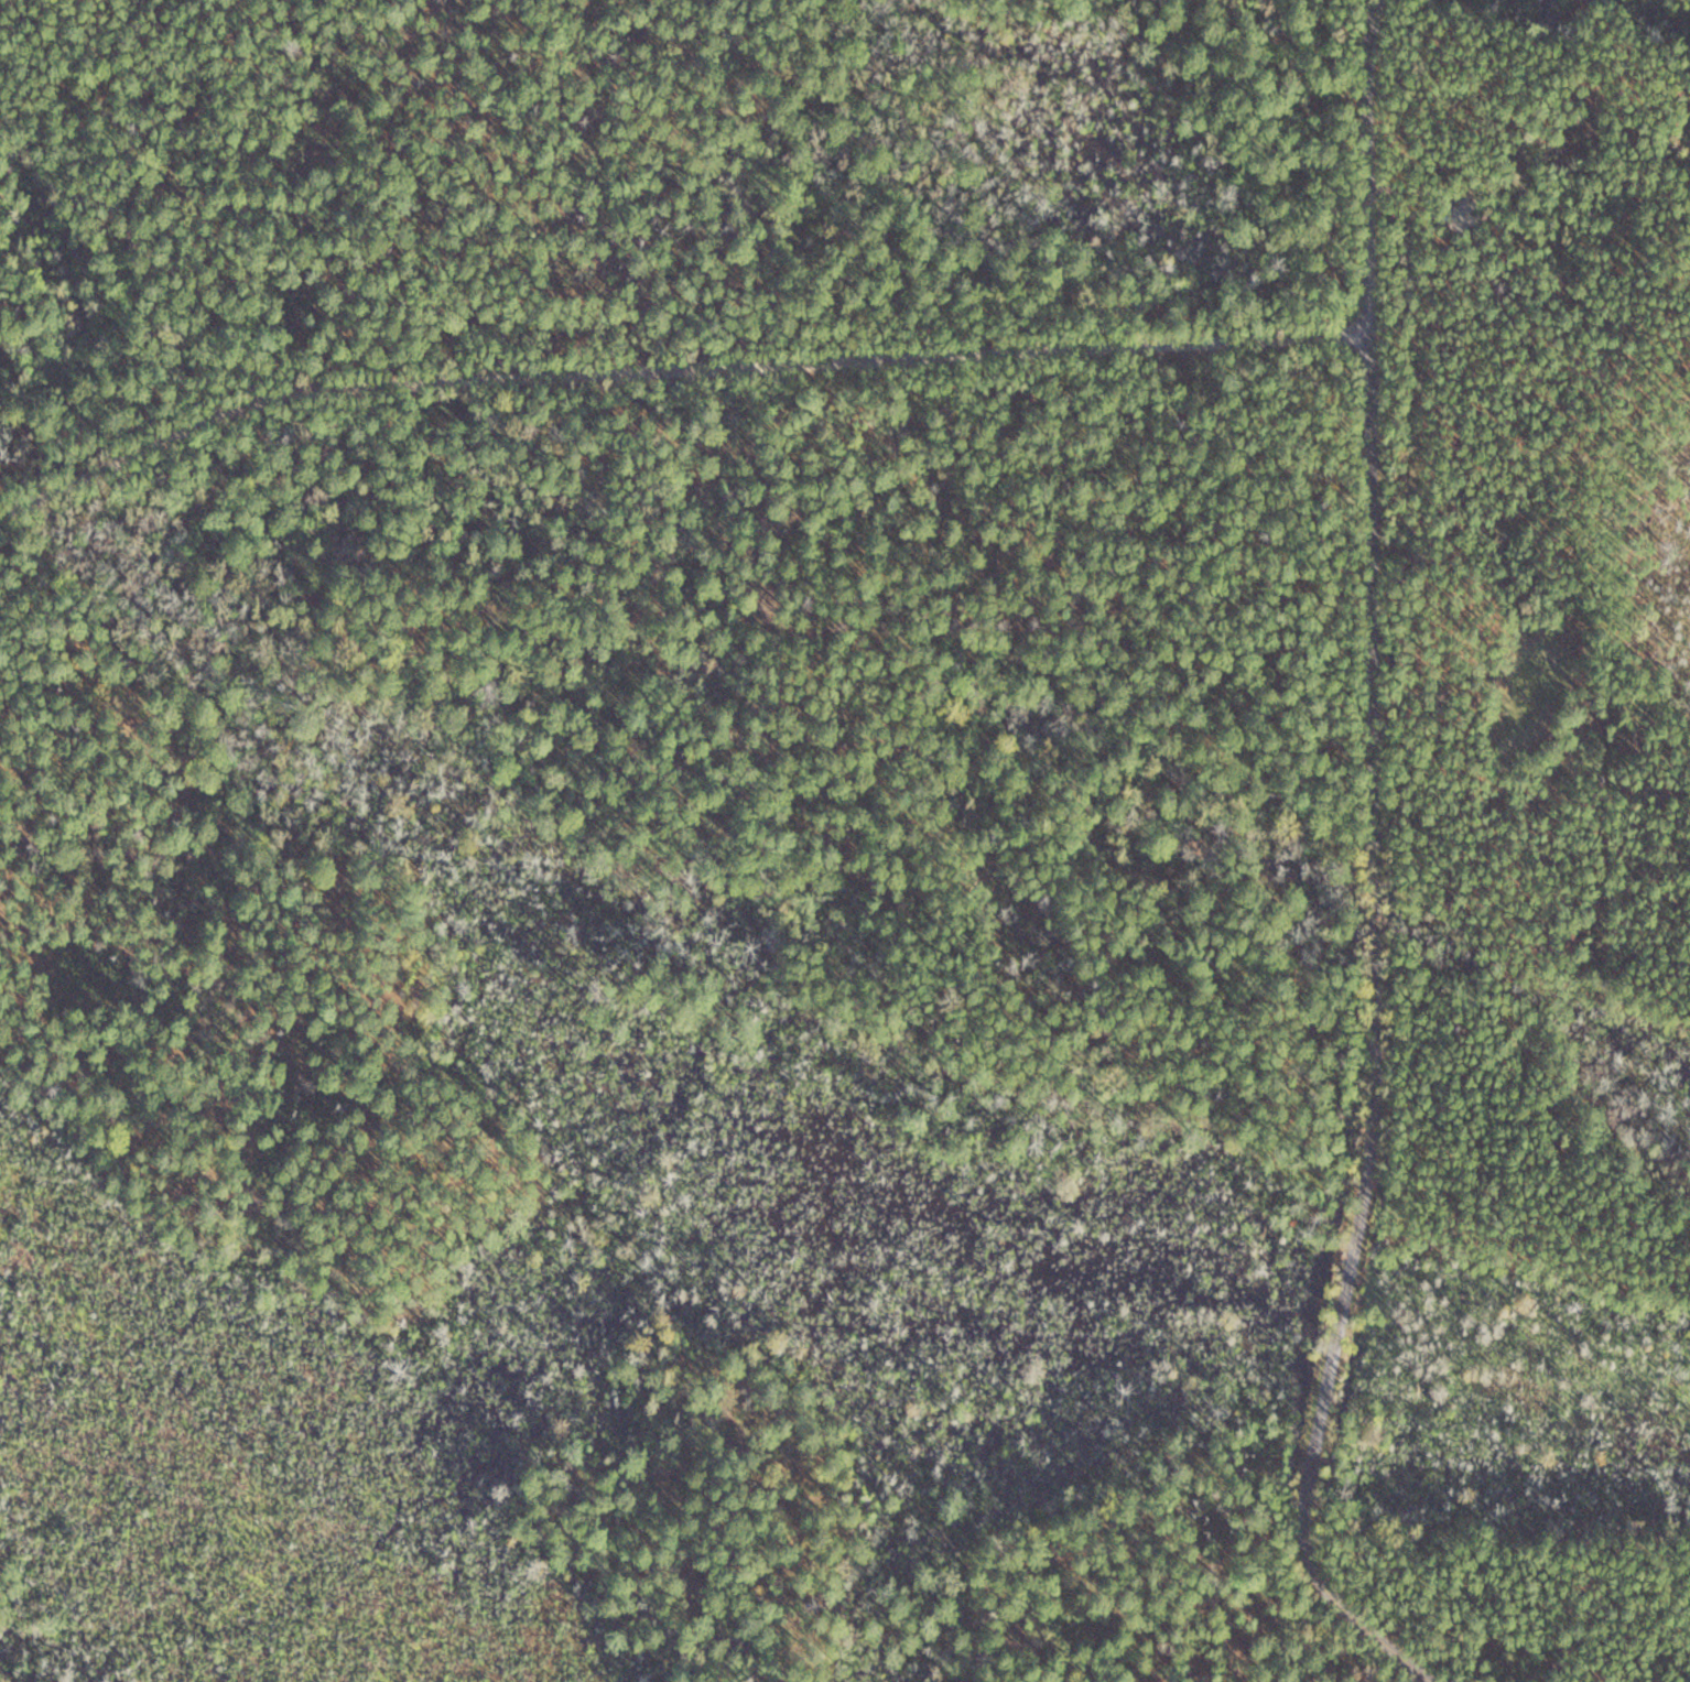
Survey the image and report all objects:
road: (1534, 192)
road: (673, 369)
road: (1378, 871)
road: (4, 945)

